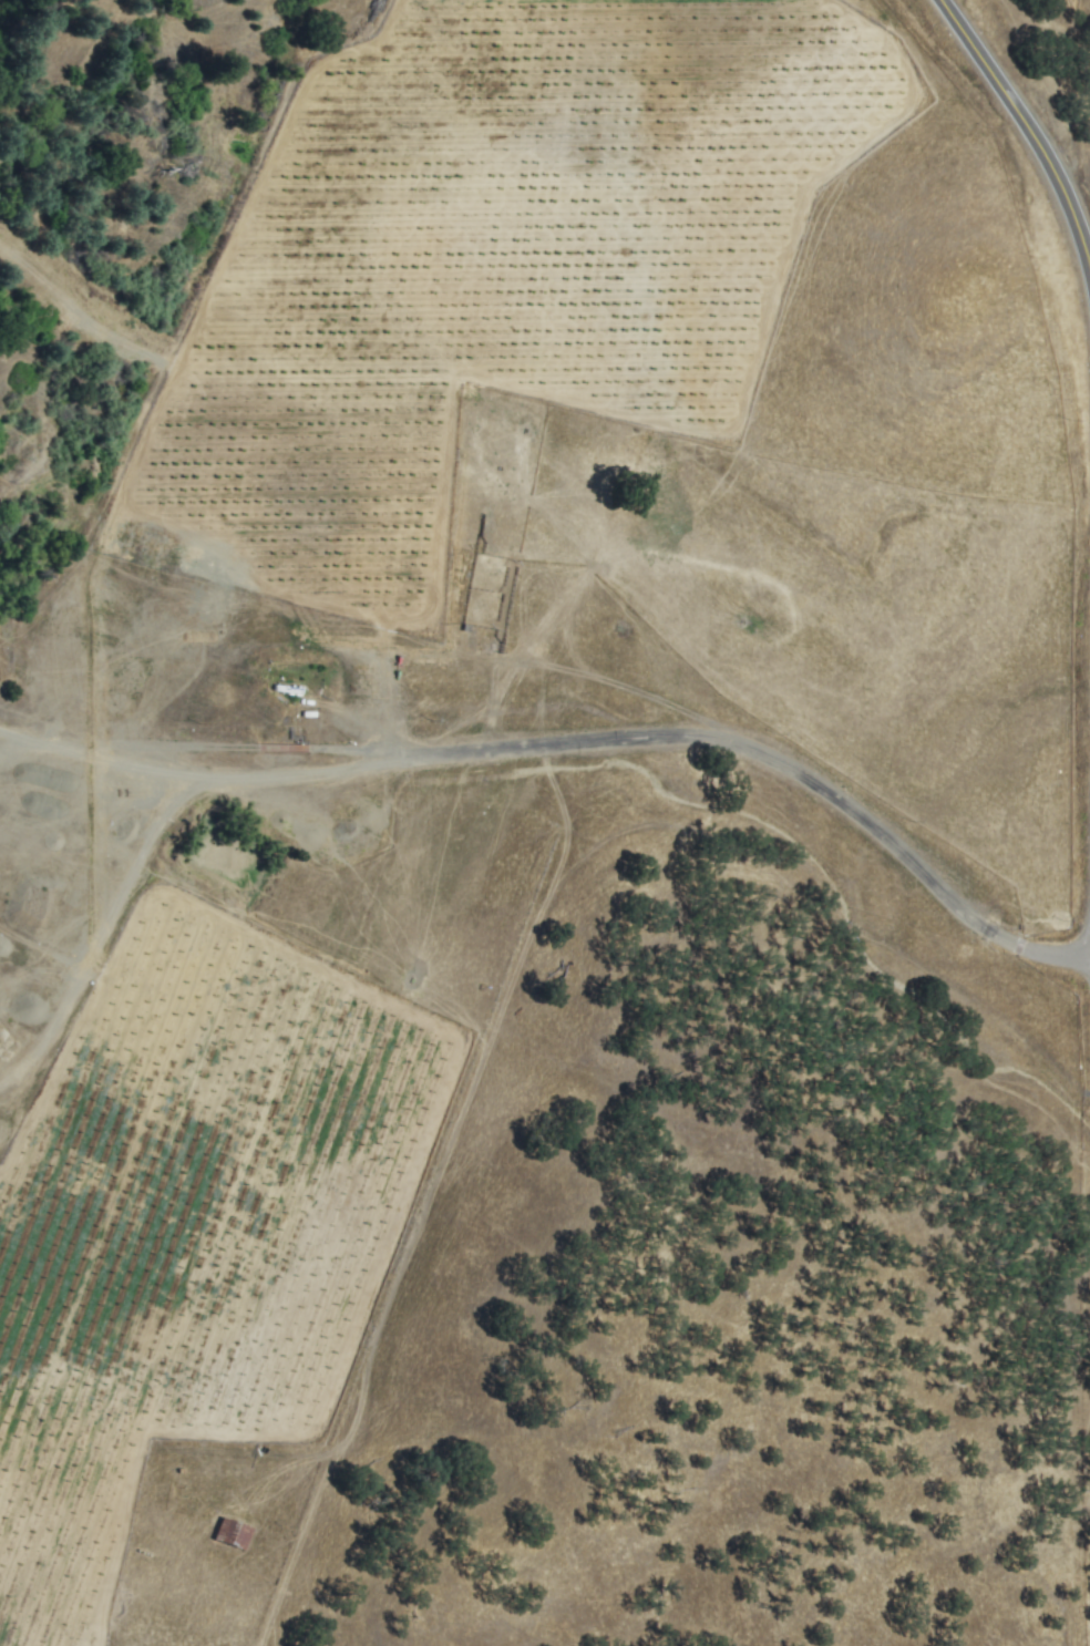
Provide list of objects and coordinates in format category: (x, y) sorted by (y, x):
road: (1026, 126)
crop: (440, 654)
road: (577, 742)
building: (232, 1534)

